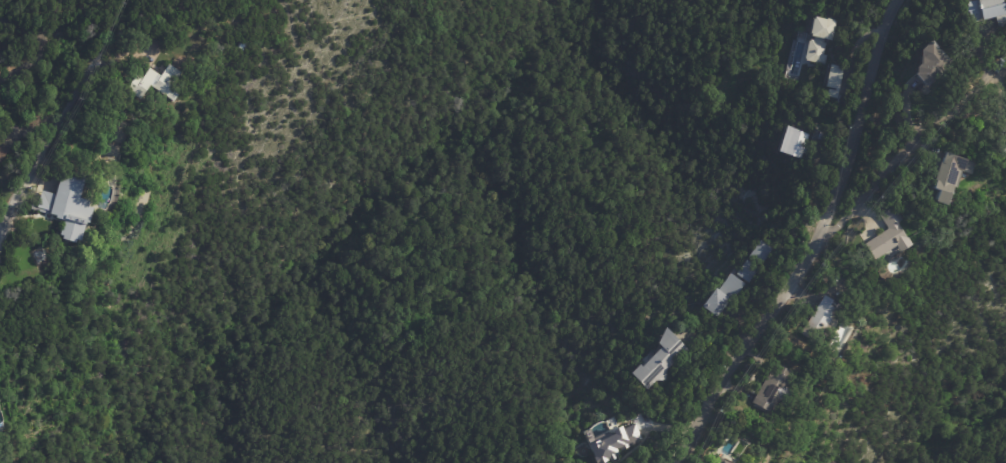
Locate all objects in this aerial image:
building: (989, 11)
building: (821, 40)
building: (242, 46)
building: (935, 63)
road: (25, 64)
building: (838, 81)
building: (160, 84)
road: (68, 108)
building: (792, 142)
building: (1000, 144)
road: (909, 149)
building: (4, 152)
building: (951, 175)
building: (69, 207)
road: (7, 215)
road: (0, 230)
building: (888, 235)
road: (813, 244)
building: (757, 252)
building: (744, 270)
building: (721, 293)
building: (820, 318)
building: (657, 359)
building: (770, 386)
building: (615, 444)
building: (716, 460)

